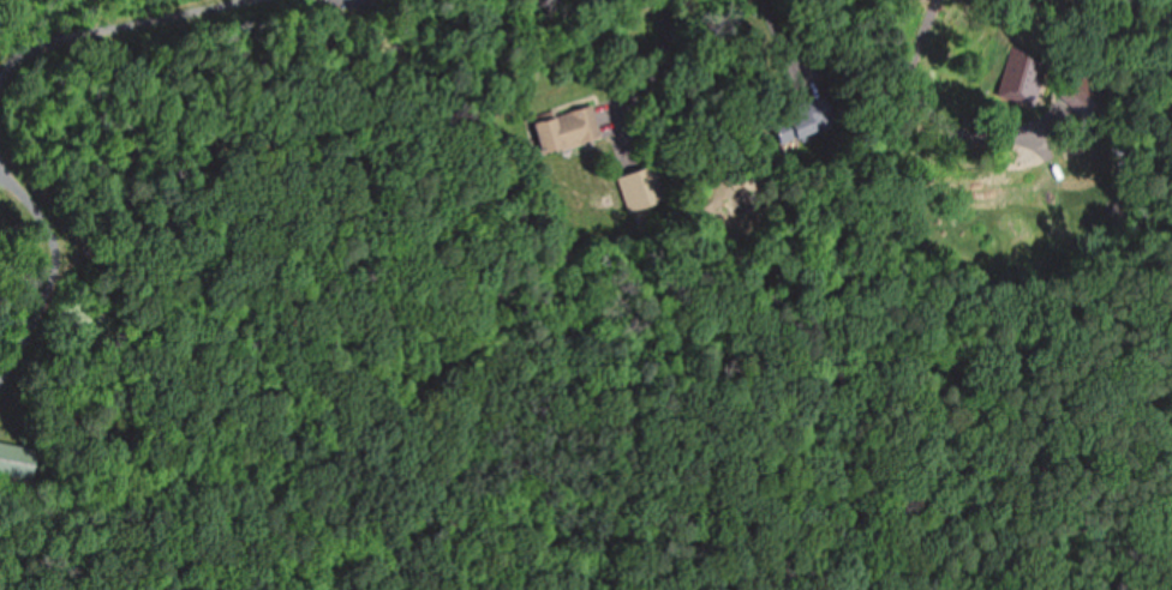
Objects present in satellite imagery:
road: (92, 31)
building: (1023, 76)
building: (1087, 92)
building: (803, 120)
building: (568, 127)
building: (1122, 144)
building: (645, 187)
road: (58, 248)
building: (17, 459)

